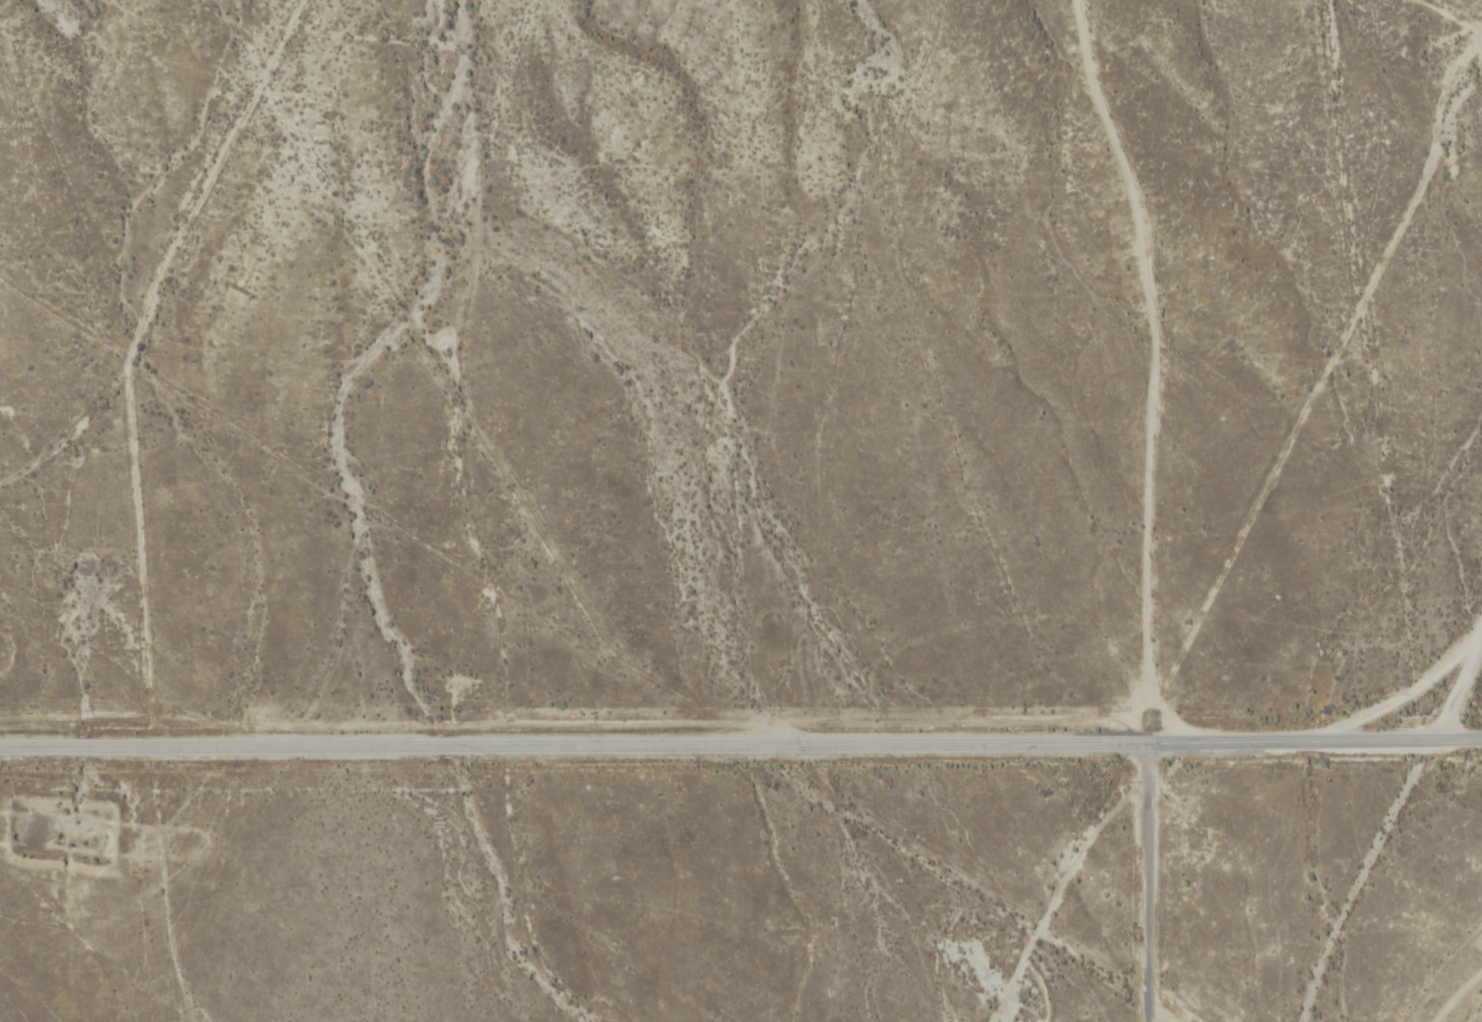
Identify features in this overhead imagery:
road: (589, 664)
road: (1458, 684)
road: (741, 749)
road: (1393, 882)
road: (1145, 883)

